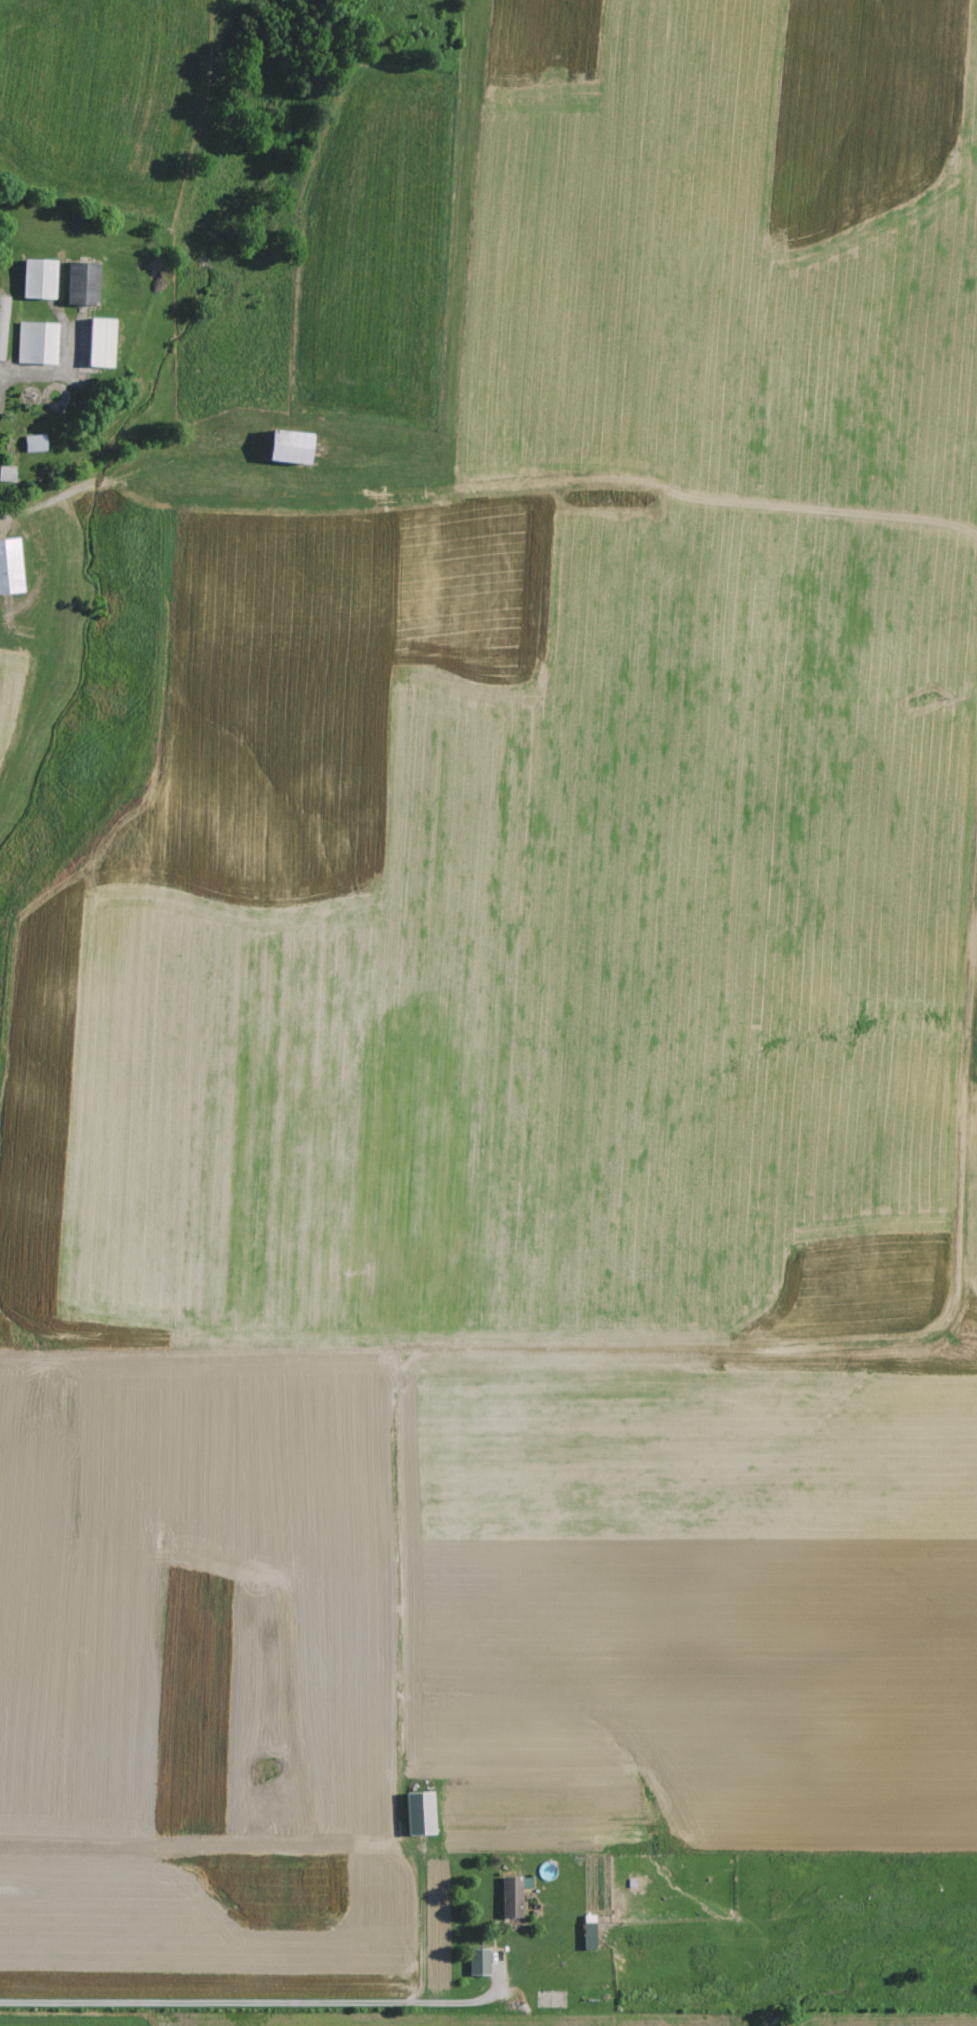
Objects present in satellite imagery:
building: (38, 280)
building: (81, 284)
building: (100, 343)
building: (36, 344)
road: (5, 400)
building: (33, 444)
building: (291, 452)
building: (6, 474)
road: (105, 479)
building: (9, 568)
building: (419, 1814)
building: (512, 1896)
building: (478, 1962)
road: (271, 2004)

